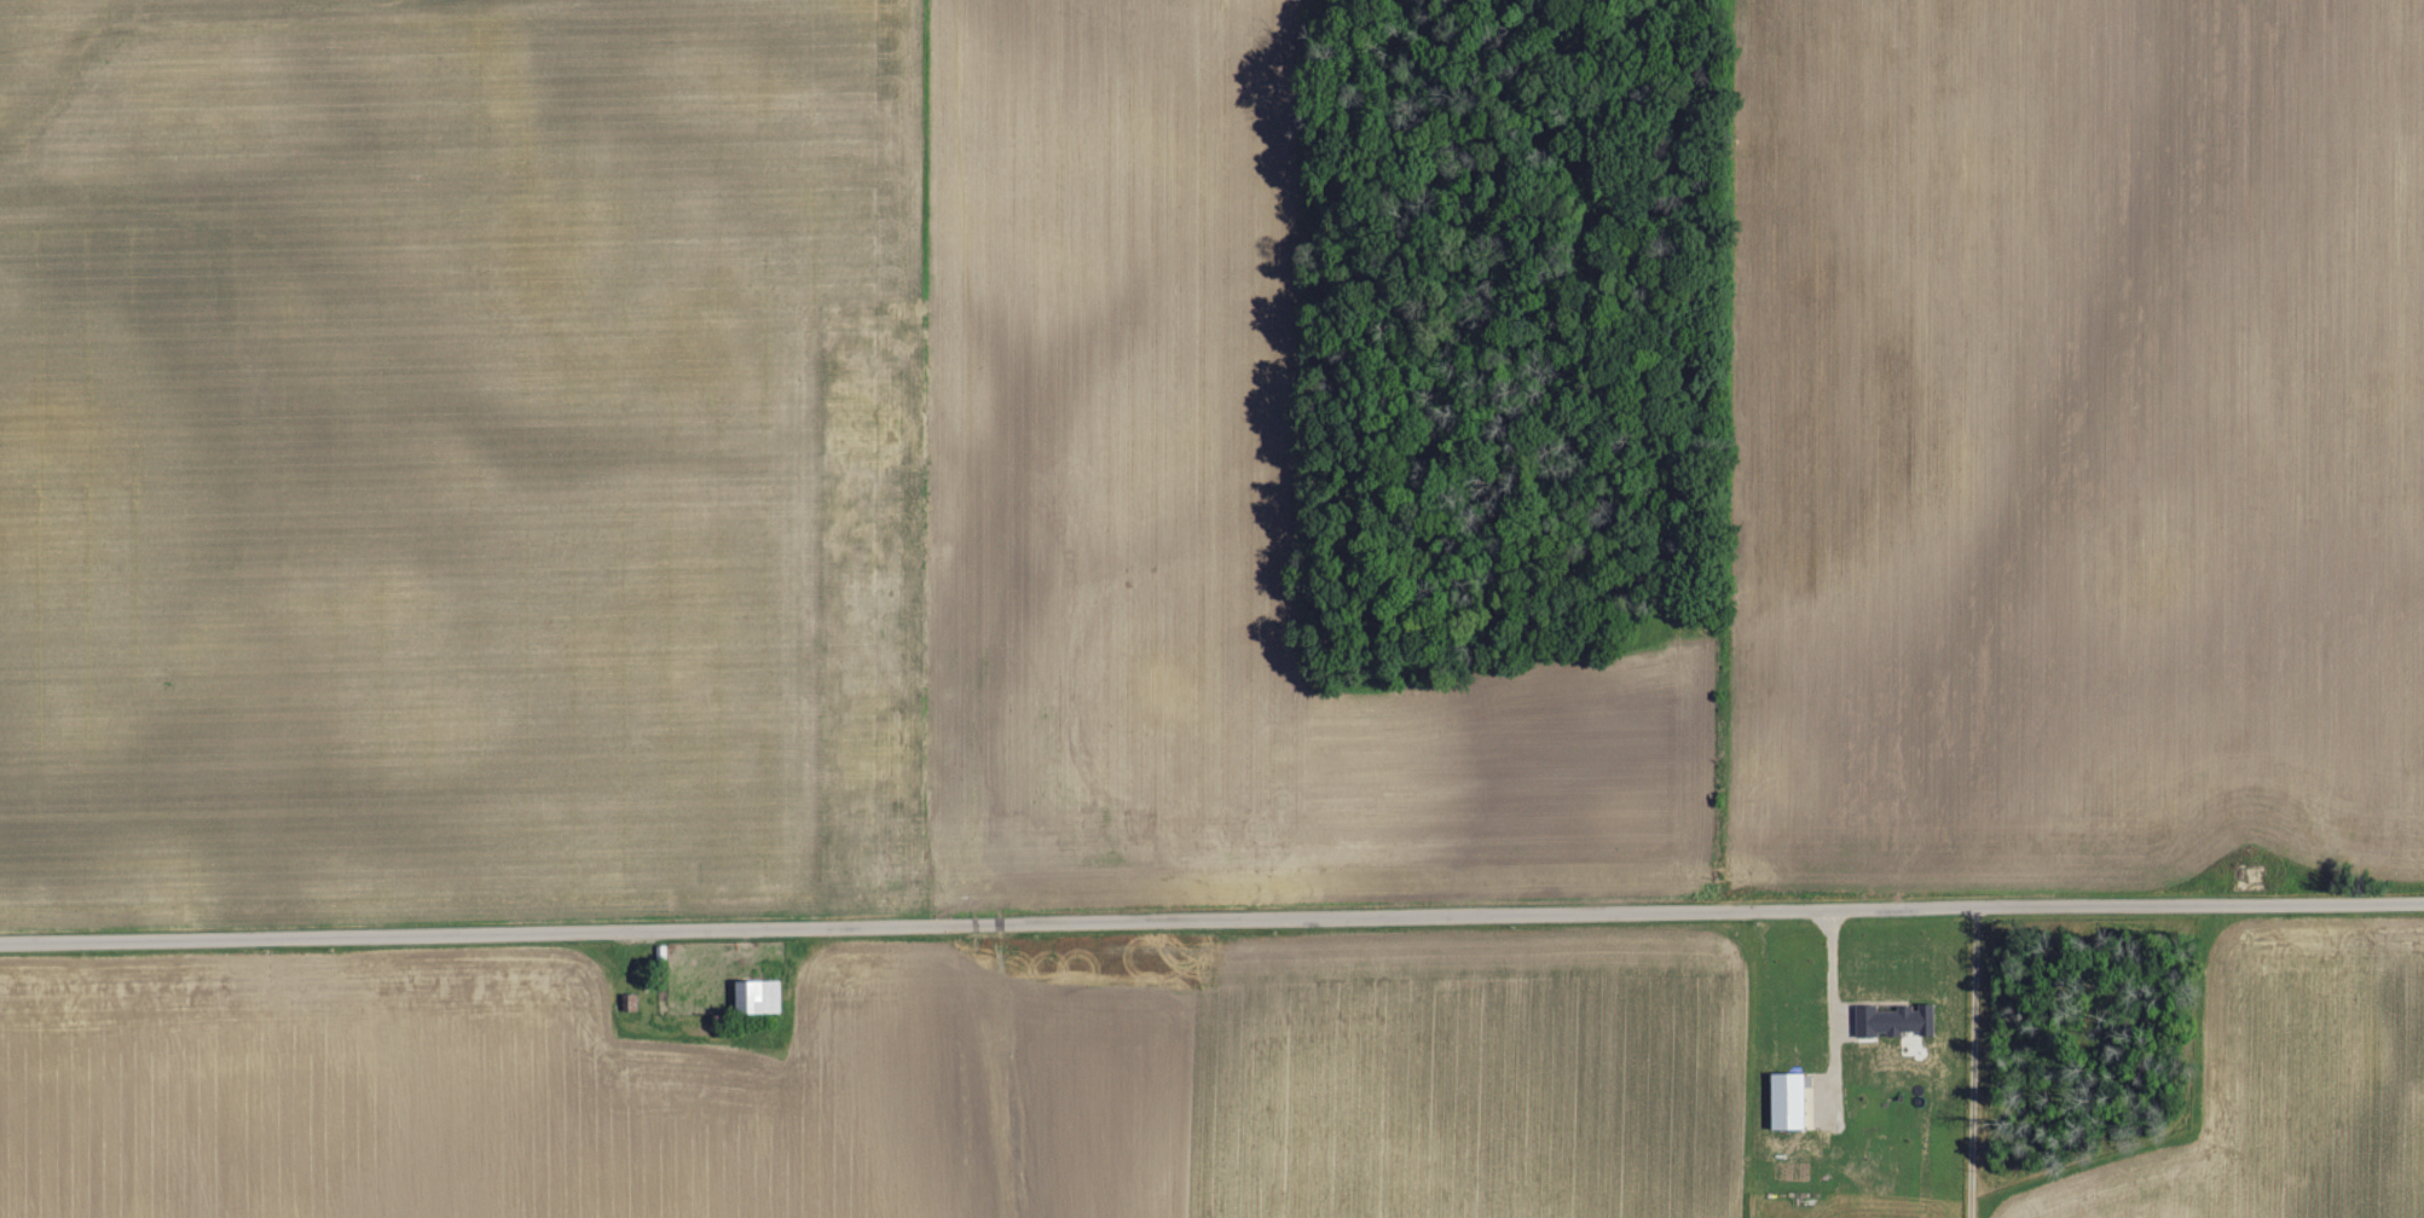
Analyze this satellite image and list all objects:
crop: (1156, 468)
road: (1211, 922)
building: (759, 993)
building: (629, 1002)
road: (1971, 1061)
crop: (896, 1081)
crop: (2270, 1086)
building: (1790, 1101)

